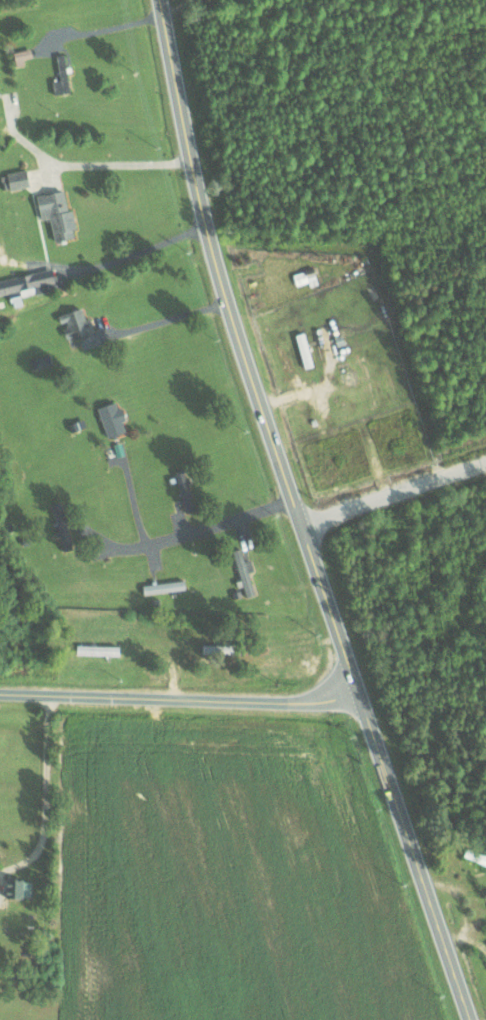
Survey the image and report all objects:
building: (21, 56)
building: (61, 76)
road: (122, 164)
building: (17, 179)
building: (56, 213)
building: (305, 277)
building: (29, 282)
road: (166, 319)
building: (74, 323)
building: (111, 418)
road: (130, 494)
road: (395, 494)
road: (299, 514)
road: (204, 531)
building: (243, 572)
building: (157, 587)
road: (179, 696)
road: (43, 794)
building: (480, 857)
building: (18, 889)

